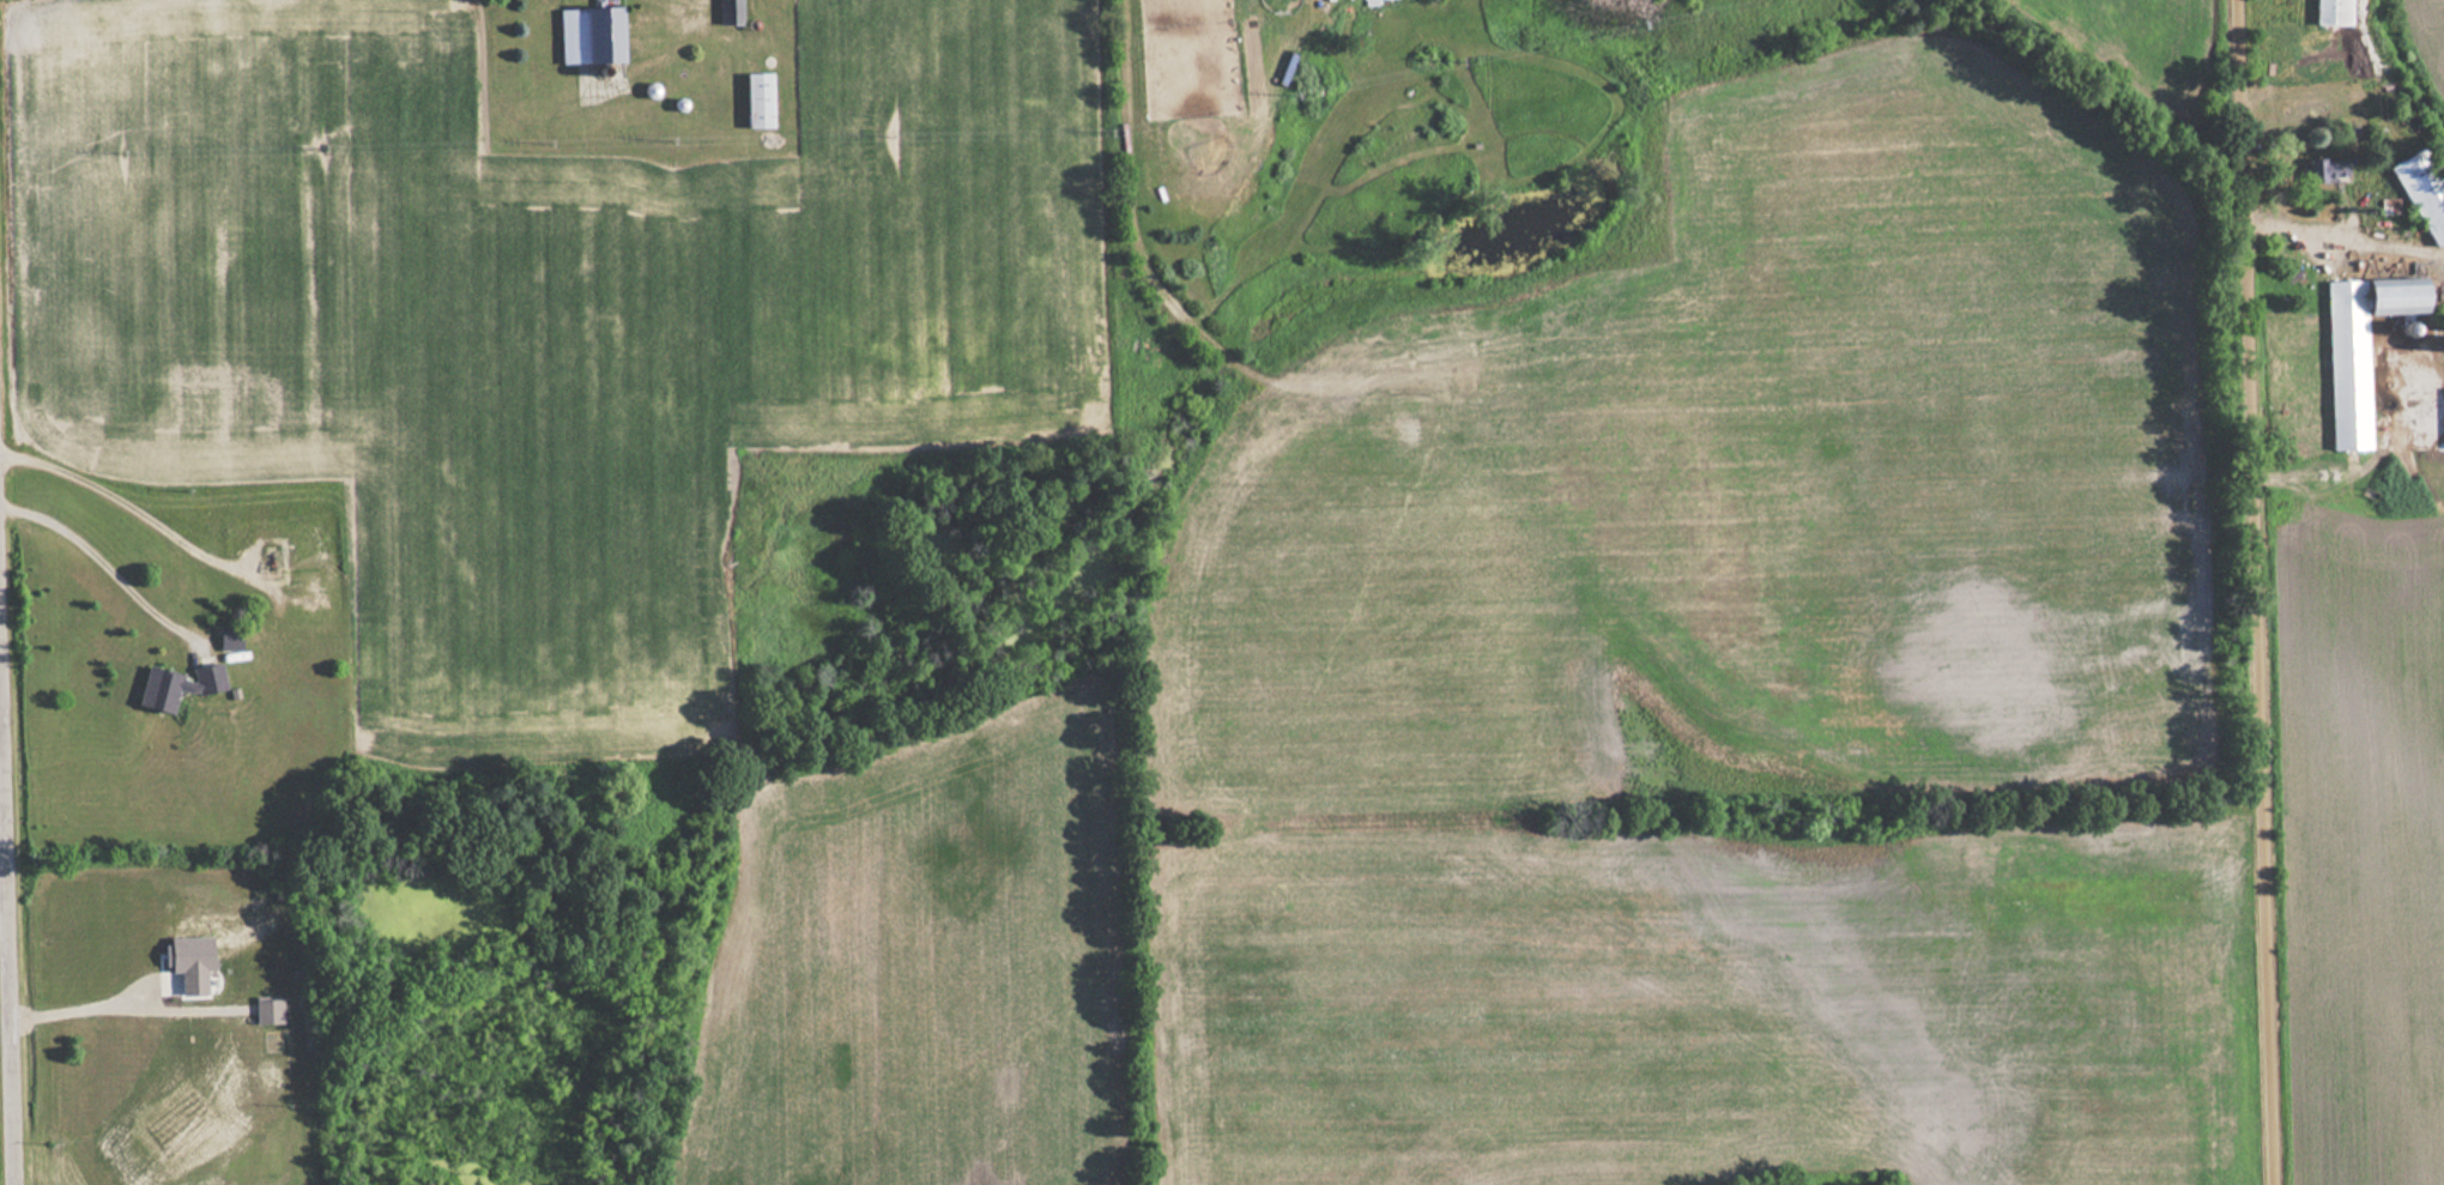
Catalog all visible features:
building: (727, 12)
building: (2331, 12)
building: (587, 36)
building: (756, 101)
building: (2327, 171)
building: (2422, 192)
building: (2358, 350)
road: (127, 504)
petroleum well: (272, 560)
road: (2261, 592)
building: (229, 637)
building: (207, 677)
building: (161, 688)
road: (11, 866)

